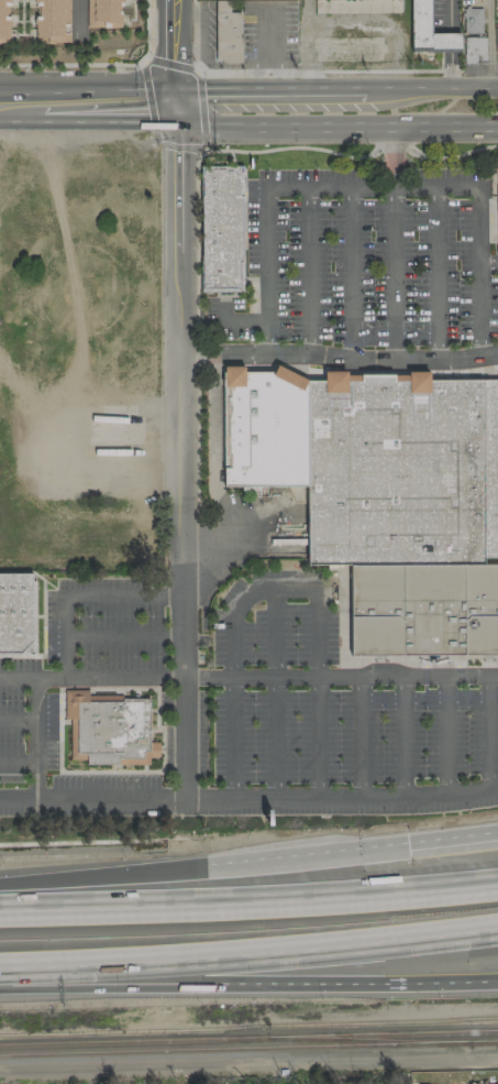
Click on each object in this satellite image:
road: (308, 11)
building: (102, 13)
road: (450, 14)
road: (200, 15)
building: (52, 20)
building: (3, 21)
building: (472, 21)
road: (380, 24)
building: (427, 29)
road: (145, 32)
building: (225, 33)
road: (450, 42)
road: (488, 44)
building: (496, 45)
road: (267, 50)
building: (472, 50)
road: (170, 53)
road: (307, 55)
road: (70, 64)
road: (169, 66)
road: (435, 70)
road: (450, 70)
road: (222, 74)
road: (430, 88)
road: (265, 89)
road: (21, 106)
road: (107, 106)
traffic signals: (170, 106)
road: (331, 128)
road: (177, 145)
road: (296, 146)
road: (390, 149)
road: (215, 150)
road: (452, 154)
road: (453, 186)
building: (497, 201)
road: (265, 208)
building: (221, 228)
road: (158, 233)
road: (195, 242)
parking lot: (363, 261)
road: (309, 272)
road: (351, 273)
road: (392, 273)
road: (435, 274)
road: (478, 310)
road: (219, 311)
road: (242, 320)
road: (197, 357)
road: (336, 358)
road: (213, 366)
road: (363, 371)
road: (196, 445)
road: (176, 451)
road: (214, 461)
building: (372, 461)
road: (493, 560)
road: (281, 590)
road: (80, 596)
building: (423, 611)
building: (15, 613)
parking lot: (107, 625)
road: (275, 634)
road: (121, 636)
road: (374, 659)
road: (339, 677)
road: (90, 678)
parking lot: (330, 707)
road: (18, 718)
parking lot: (23, 723)
building: (108, 729)
road: (488, 732)
road: (445, 734)
road: (358, 736)
road: (403, 736)
road: (36, 737)
road: (233, 737)
road: (275, 737)
road: (317, 737)
road: (18, 759)
road: (91, 797)
road: (341, 797)
parking lot: (212, 798)
road: (453, 837)
traffic signals: (408, 843)
road: (202, 864)
road: (248, 901)
road: (248, 954)
road: (441, 982)
road: (191, 983)
railway: (248, 1027)
railway: (383, 1034)
railway: (368, 1039)
railway: (134, 1041)
railway: (484, 1041)
railway: (234, 1048)
road: (248, 1063)

